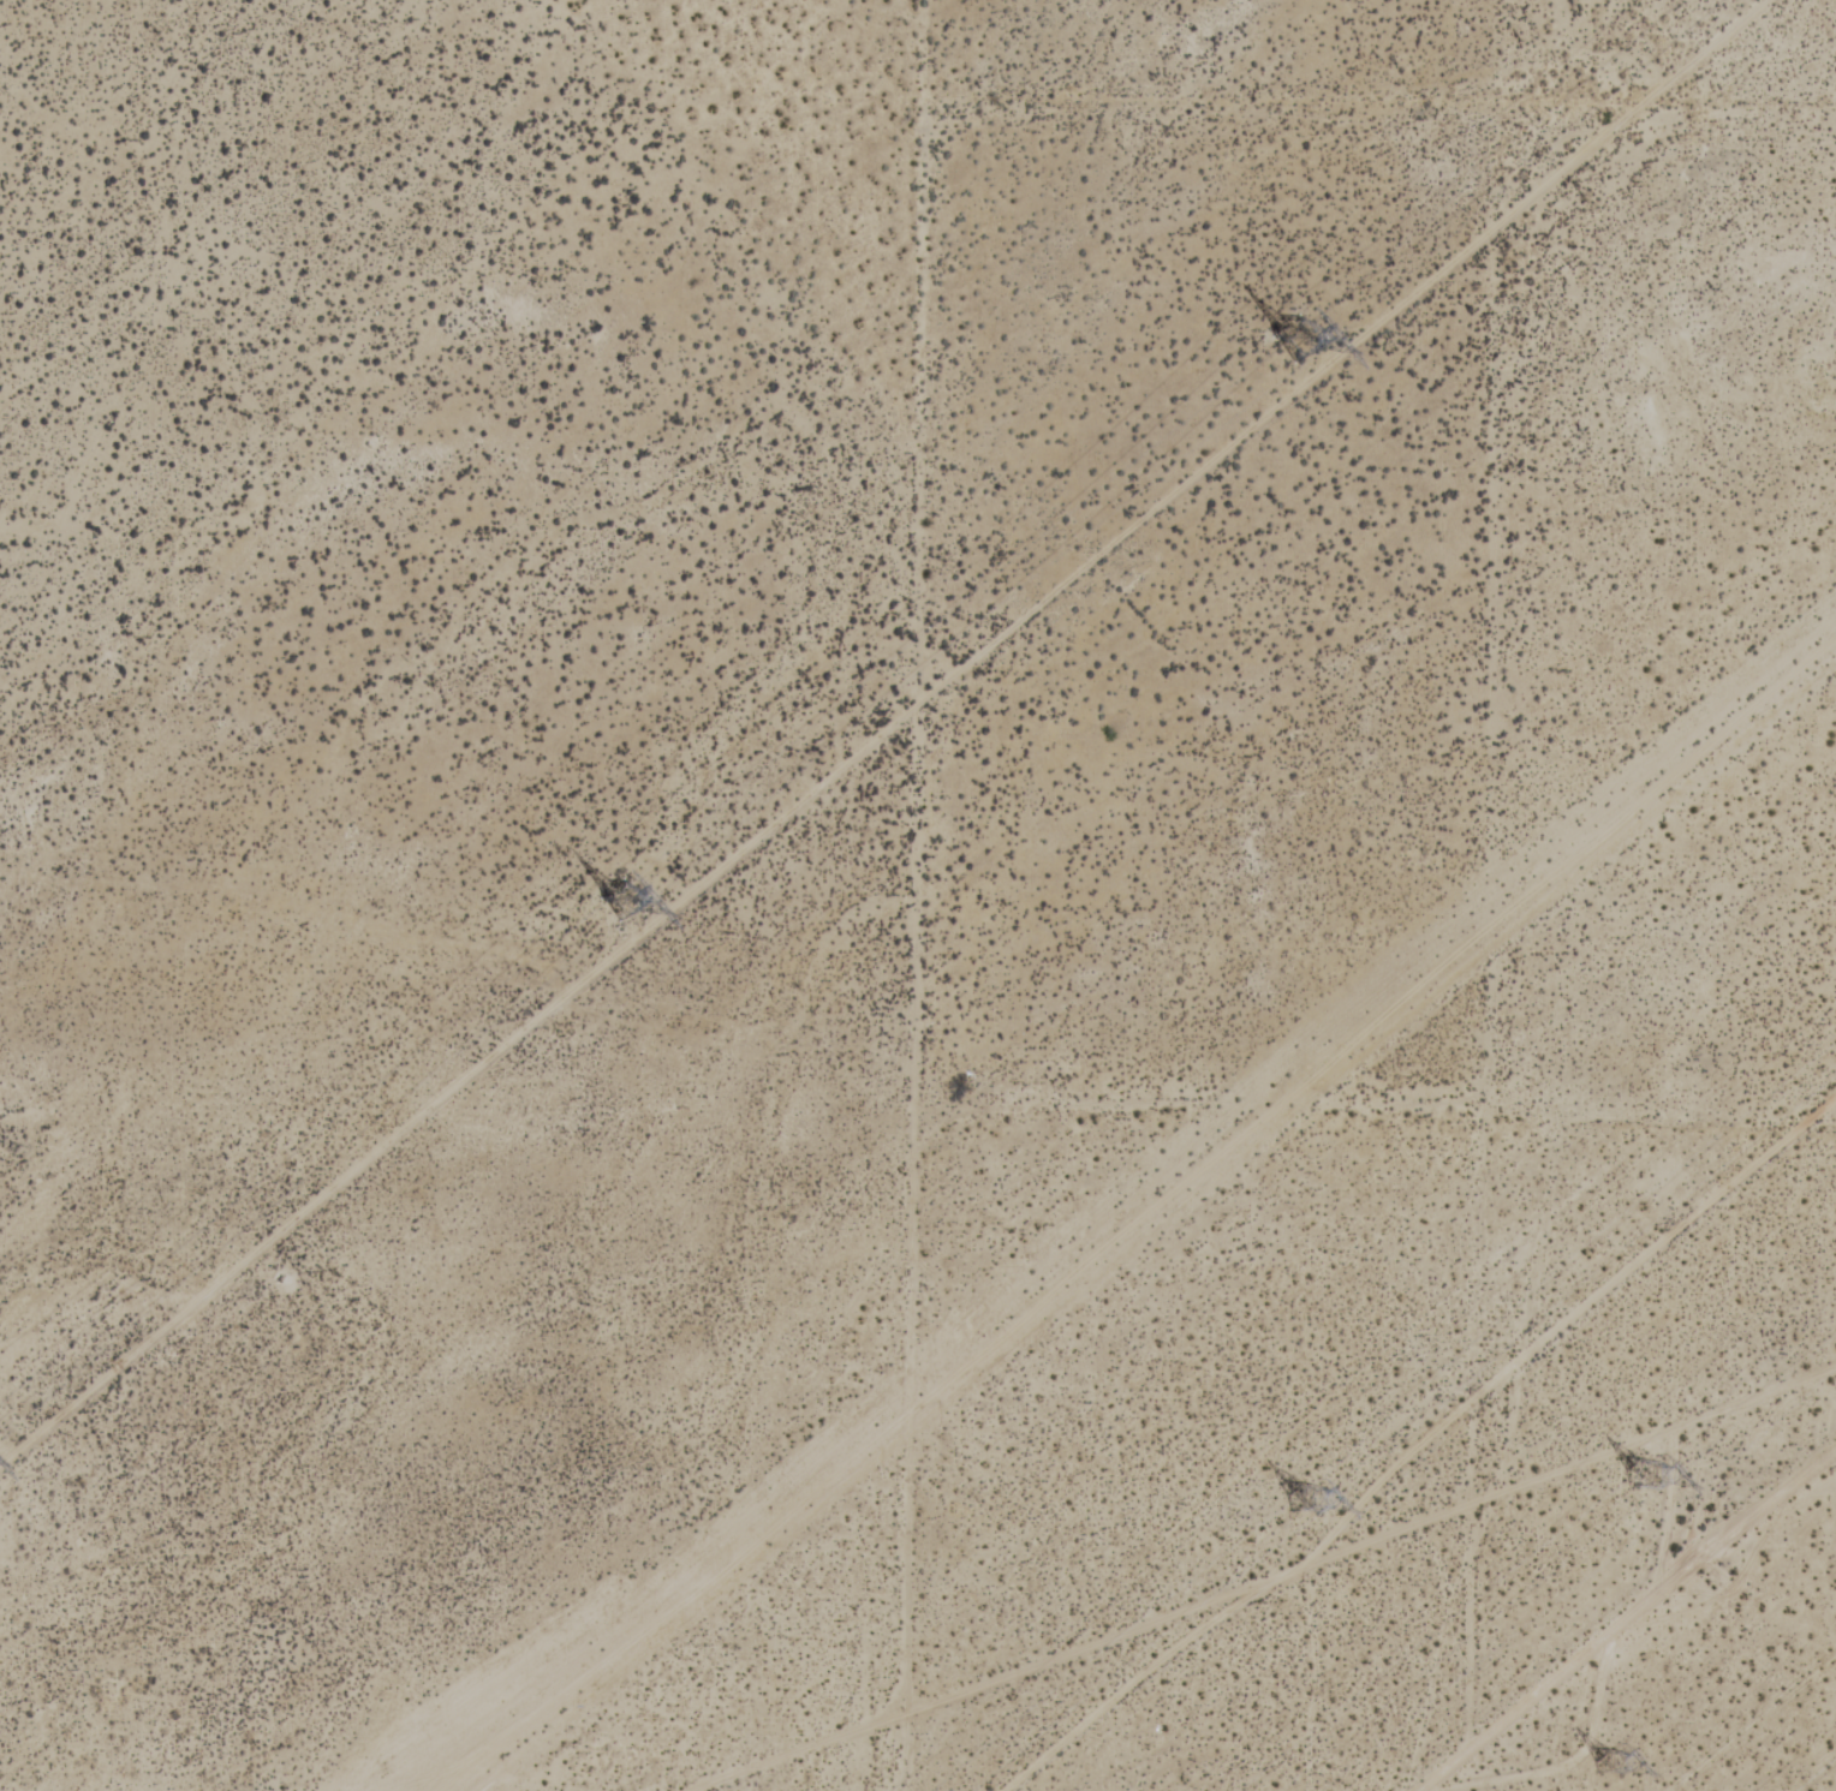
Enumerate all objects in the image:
power tower: (1287, 330)
power tower: (634, 897)
power tower: (1631, 1479)
power tower: (1306, 1492)
road: (1614, 1605)
power tower: (1629, 1755)

